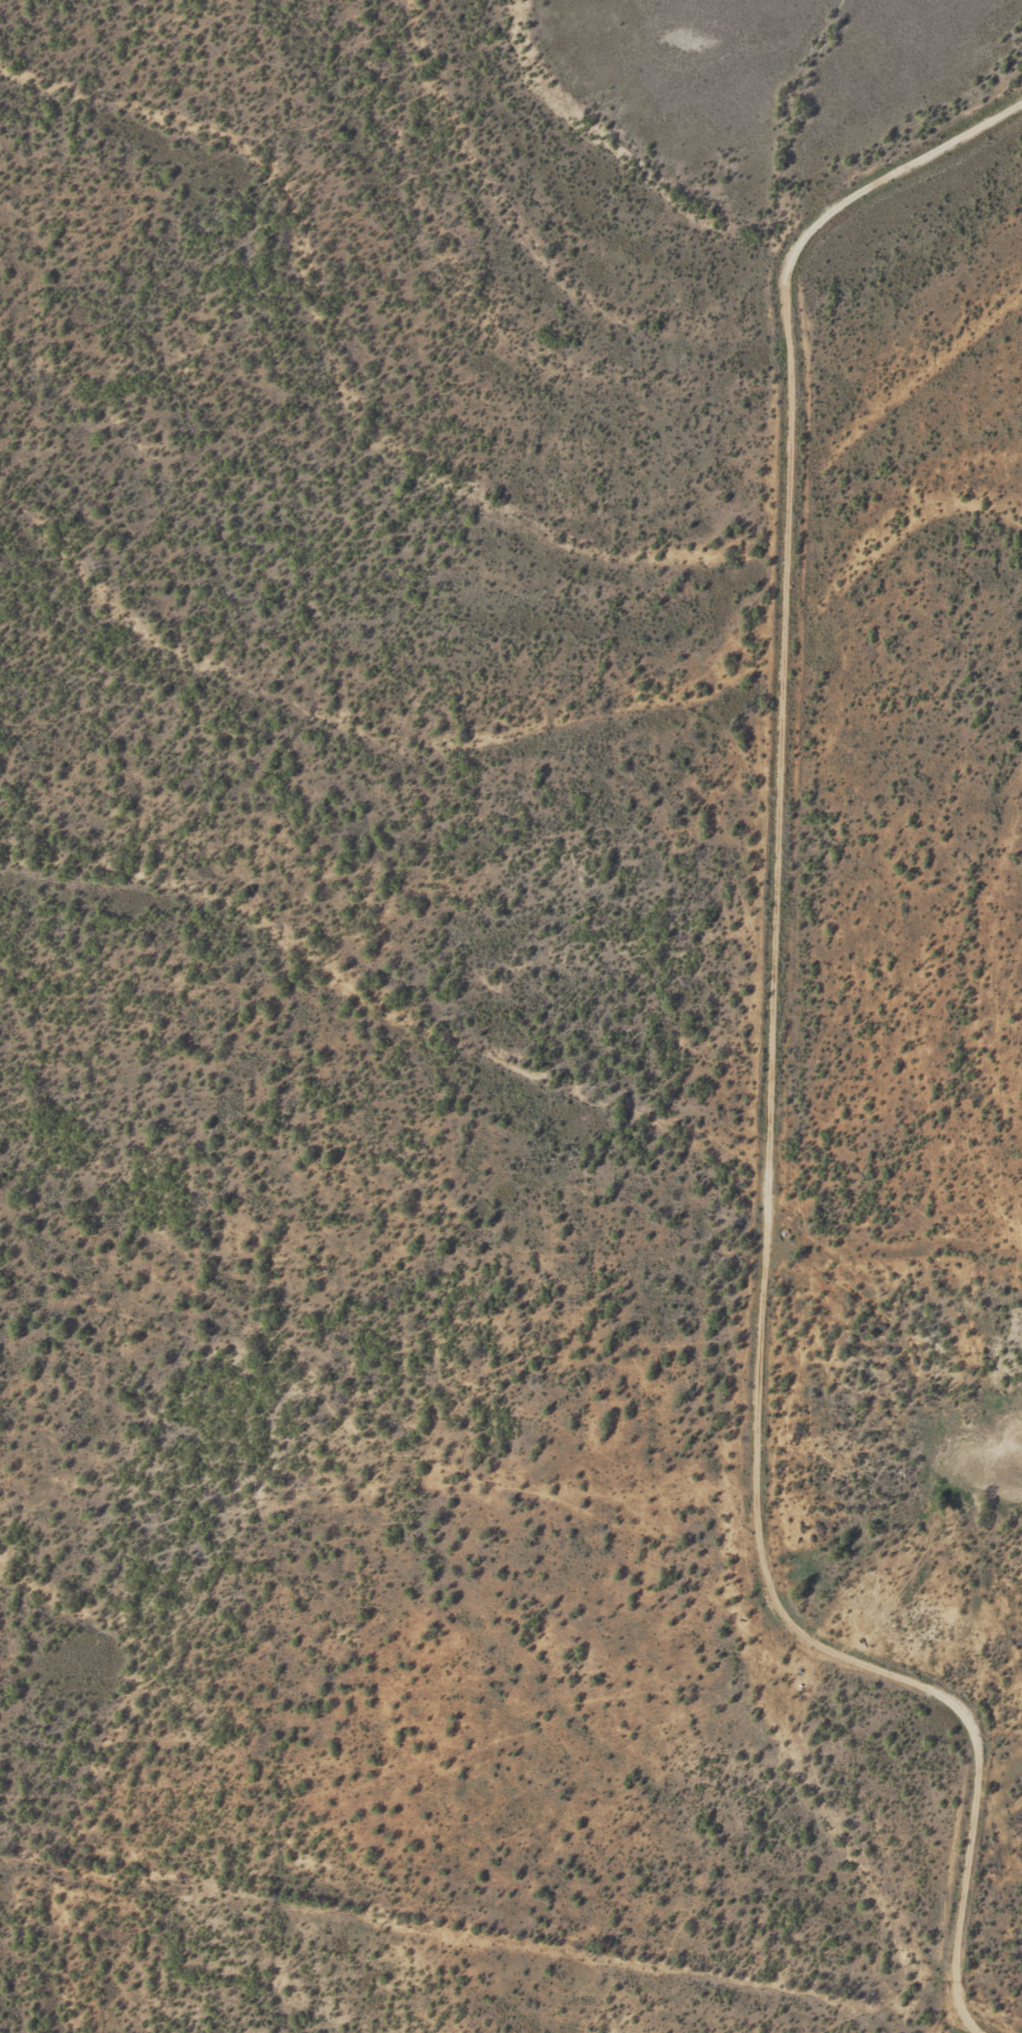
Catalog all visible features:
road: (753, 1064)
road: (889, 1288)

